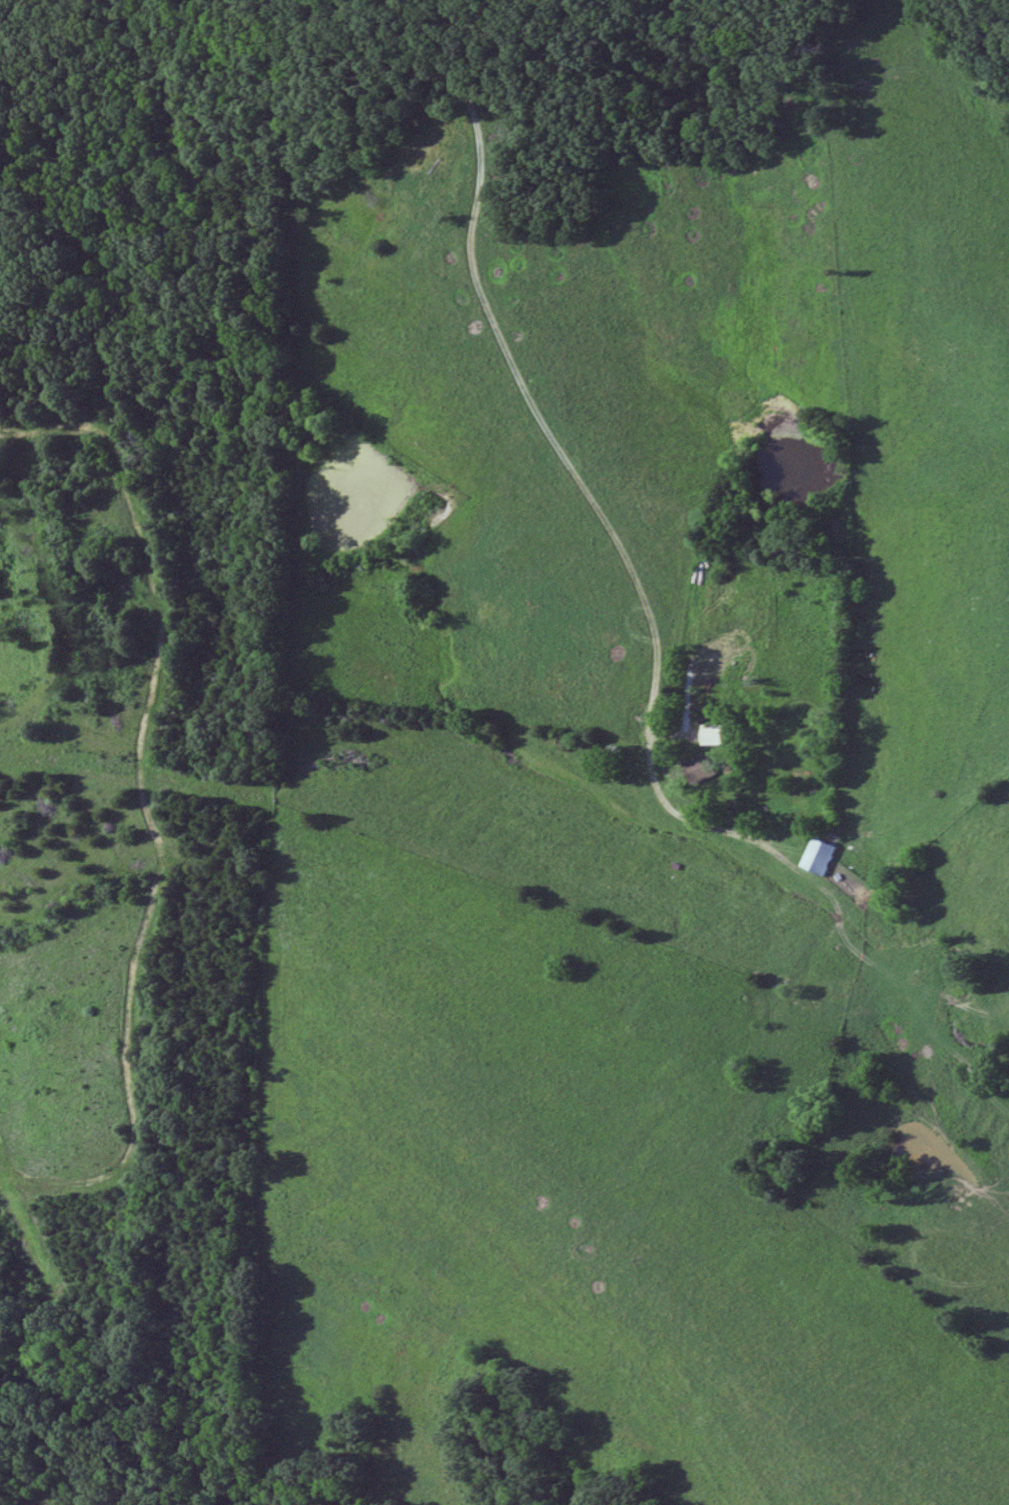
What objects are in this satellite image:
road: (579, 475)
building: (715, 735)
building: (703, 769)
building: (821, 856)

